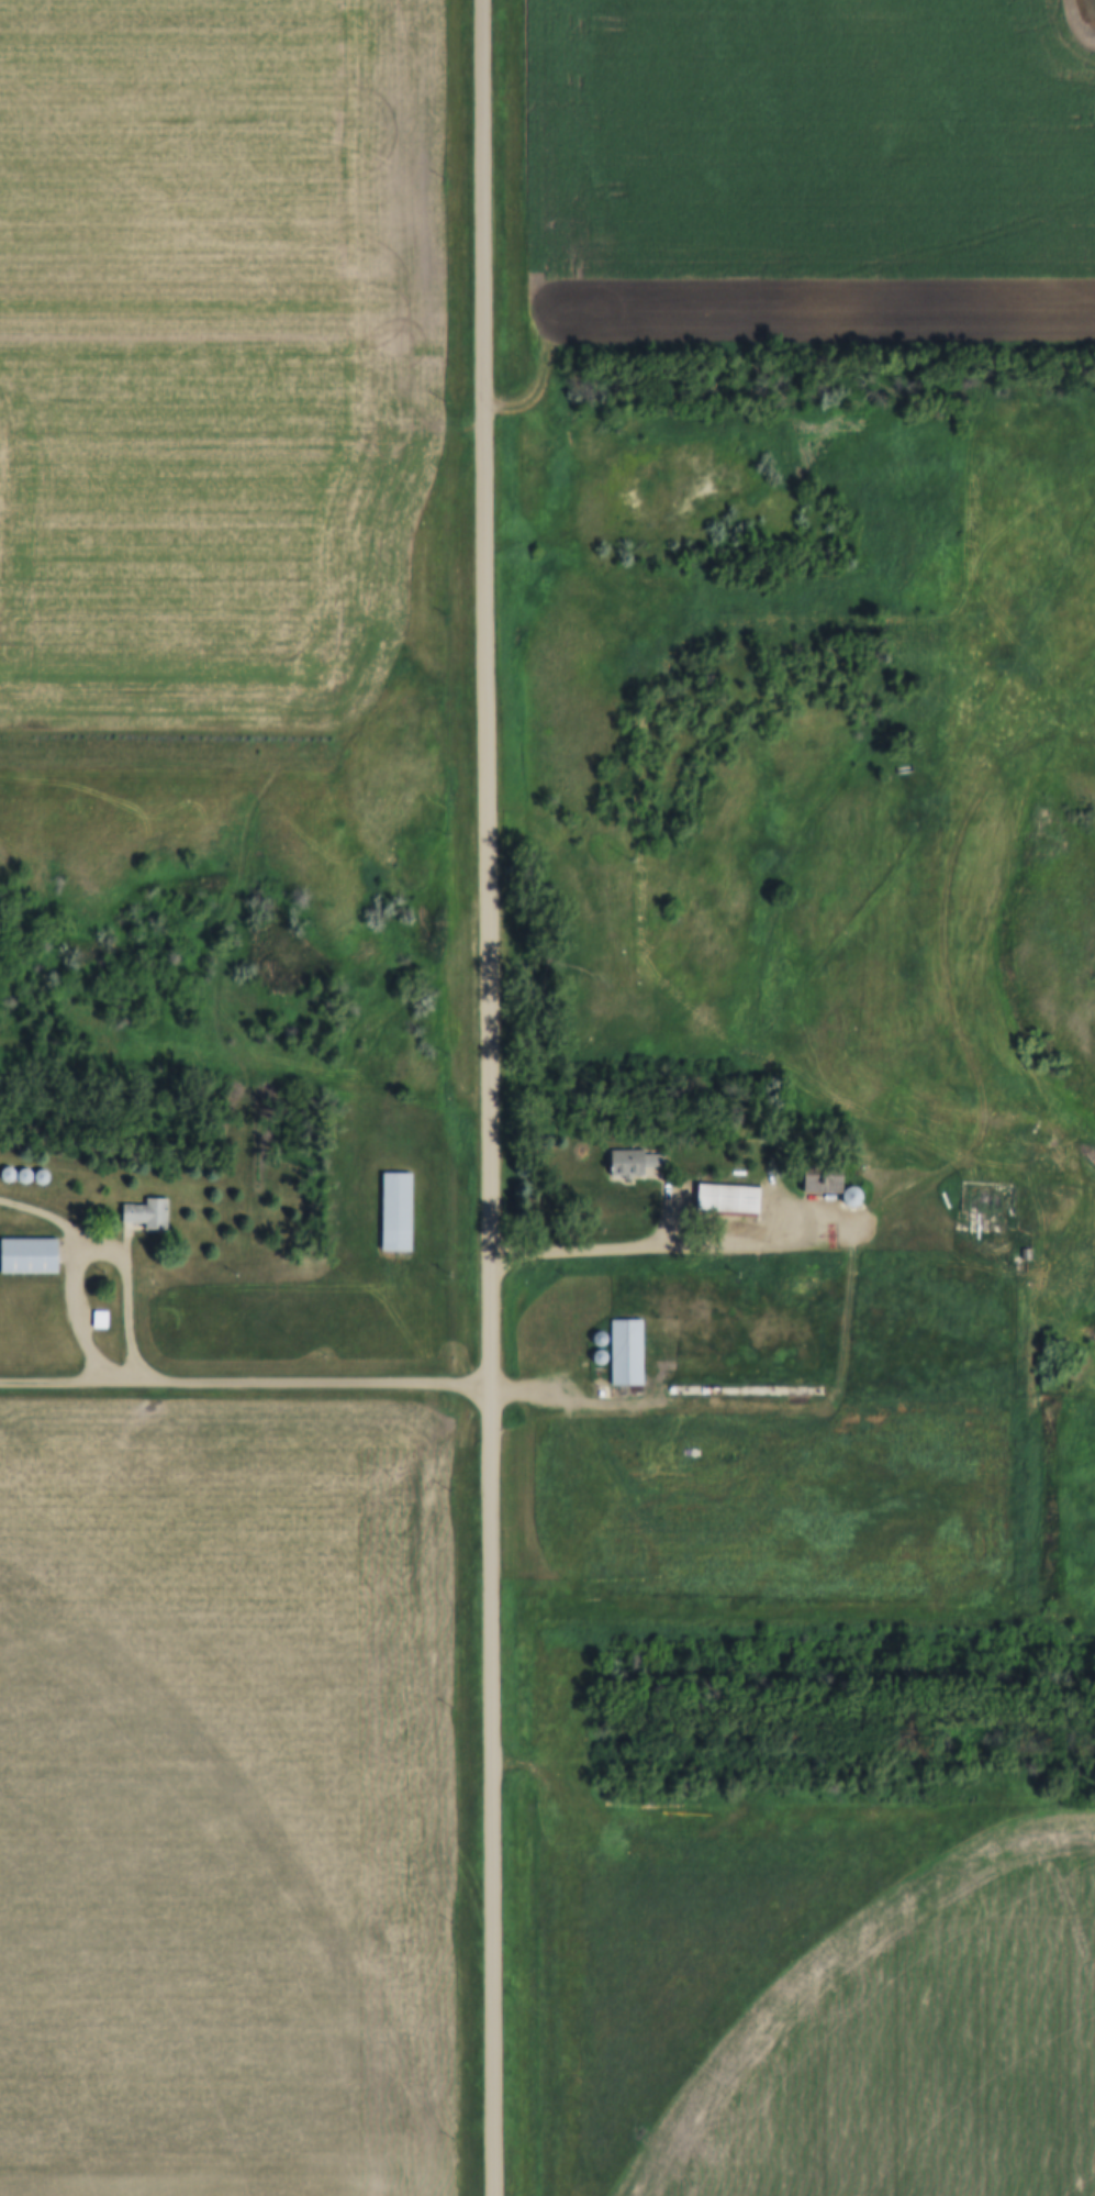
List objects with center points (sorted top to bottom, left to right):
road: (490, 1097)
building: (629, 1163)
building: (823, 1183)
building: (976, 1198)
building: (723, 1200)
building: (394, 1213)
building: (147, 1215)
road: (717, 1246)
building: (31, 1256)
road: (113, 1256)
building: (625, 1352)
road: (245, 1380)

